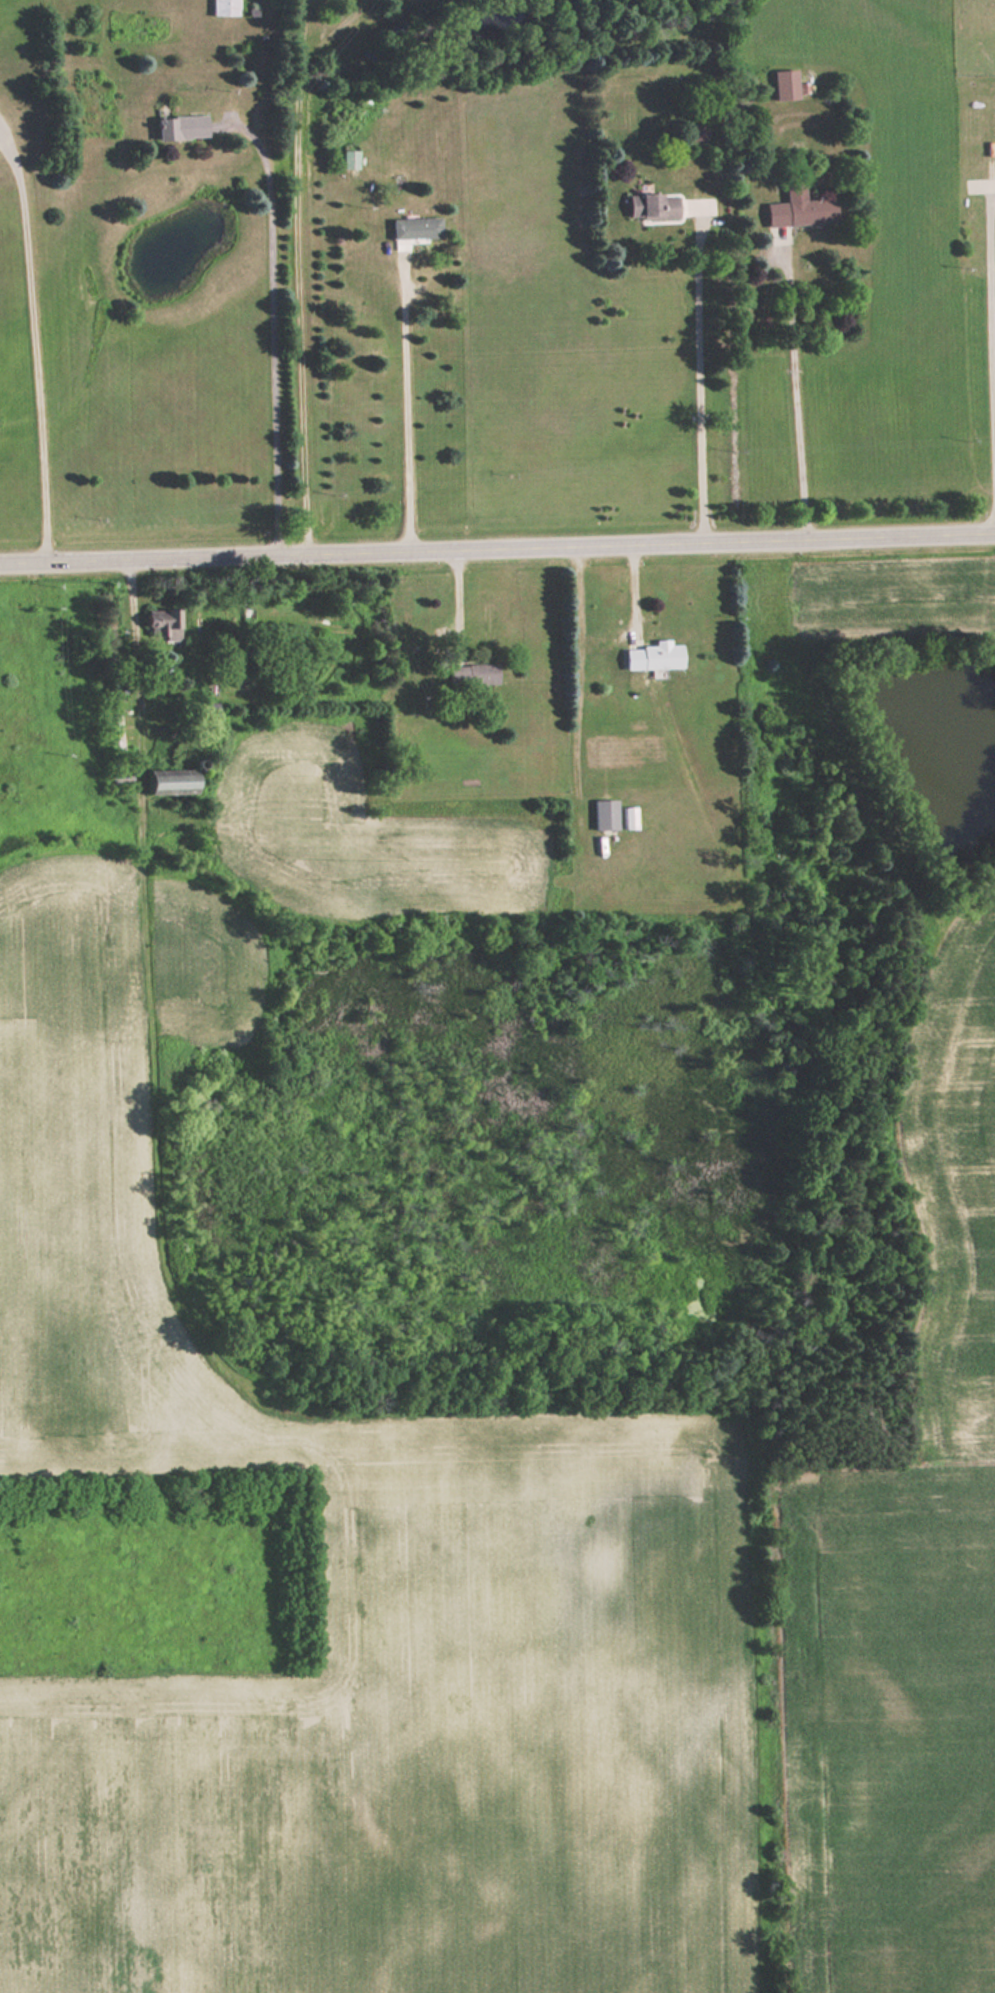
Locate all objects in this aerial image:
building: (224, 8)
building: (786, 85)
building: (182, 128)
building: (697, 129)
building: (350, 160)
building: (654, 207)
building: (800, 207)
building: (417, 228)
road: (497, 542)
building: (163, 620)
building: (656, 655)
building: (474, 673)
building: (175, 783)
building: (606, 813)

